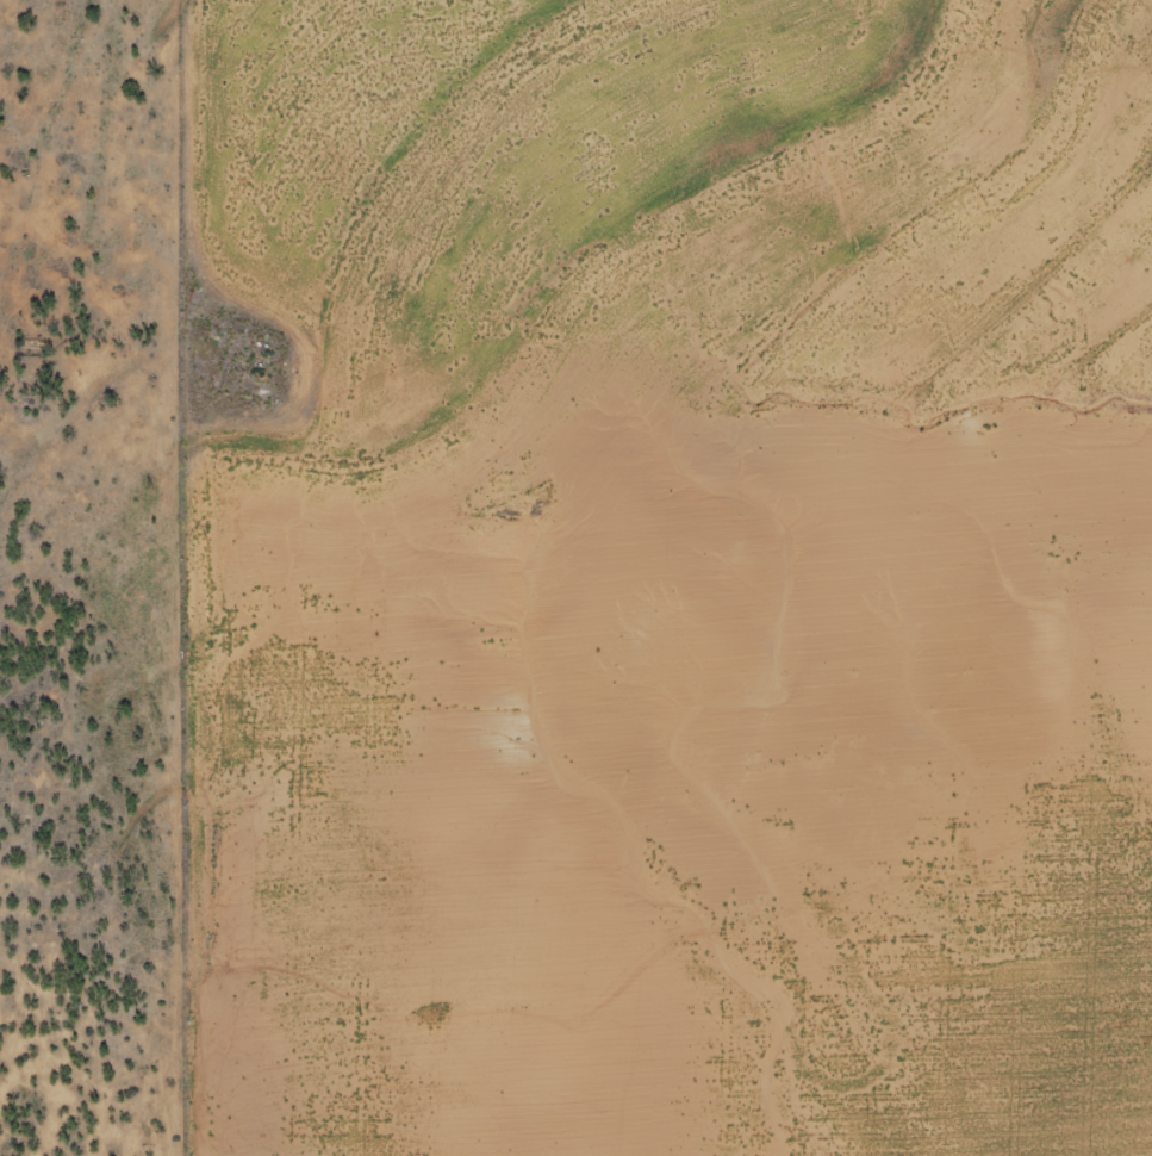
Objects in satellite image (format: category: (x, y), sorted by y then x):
road: (174, 285)

